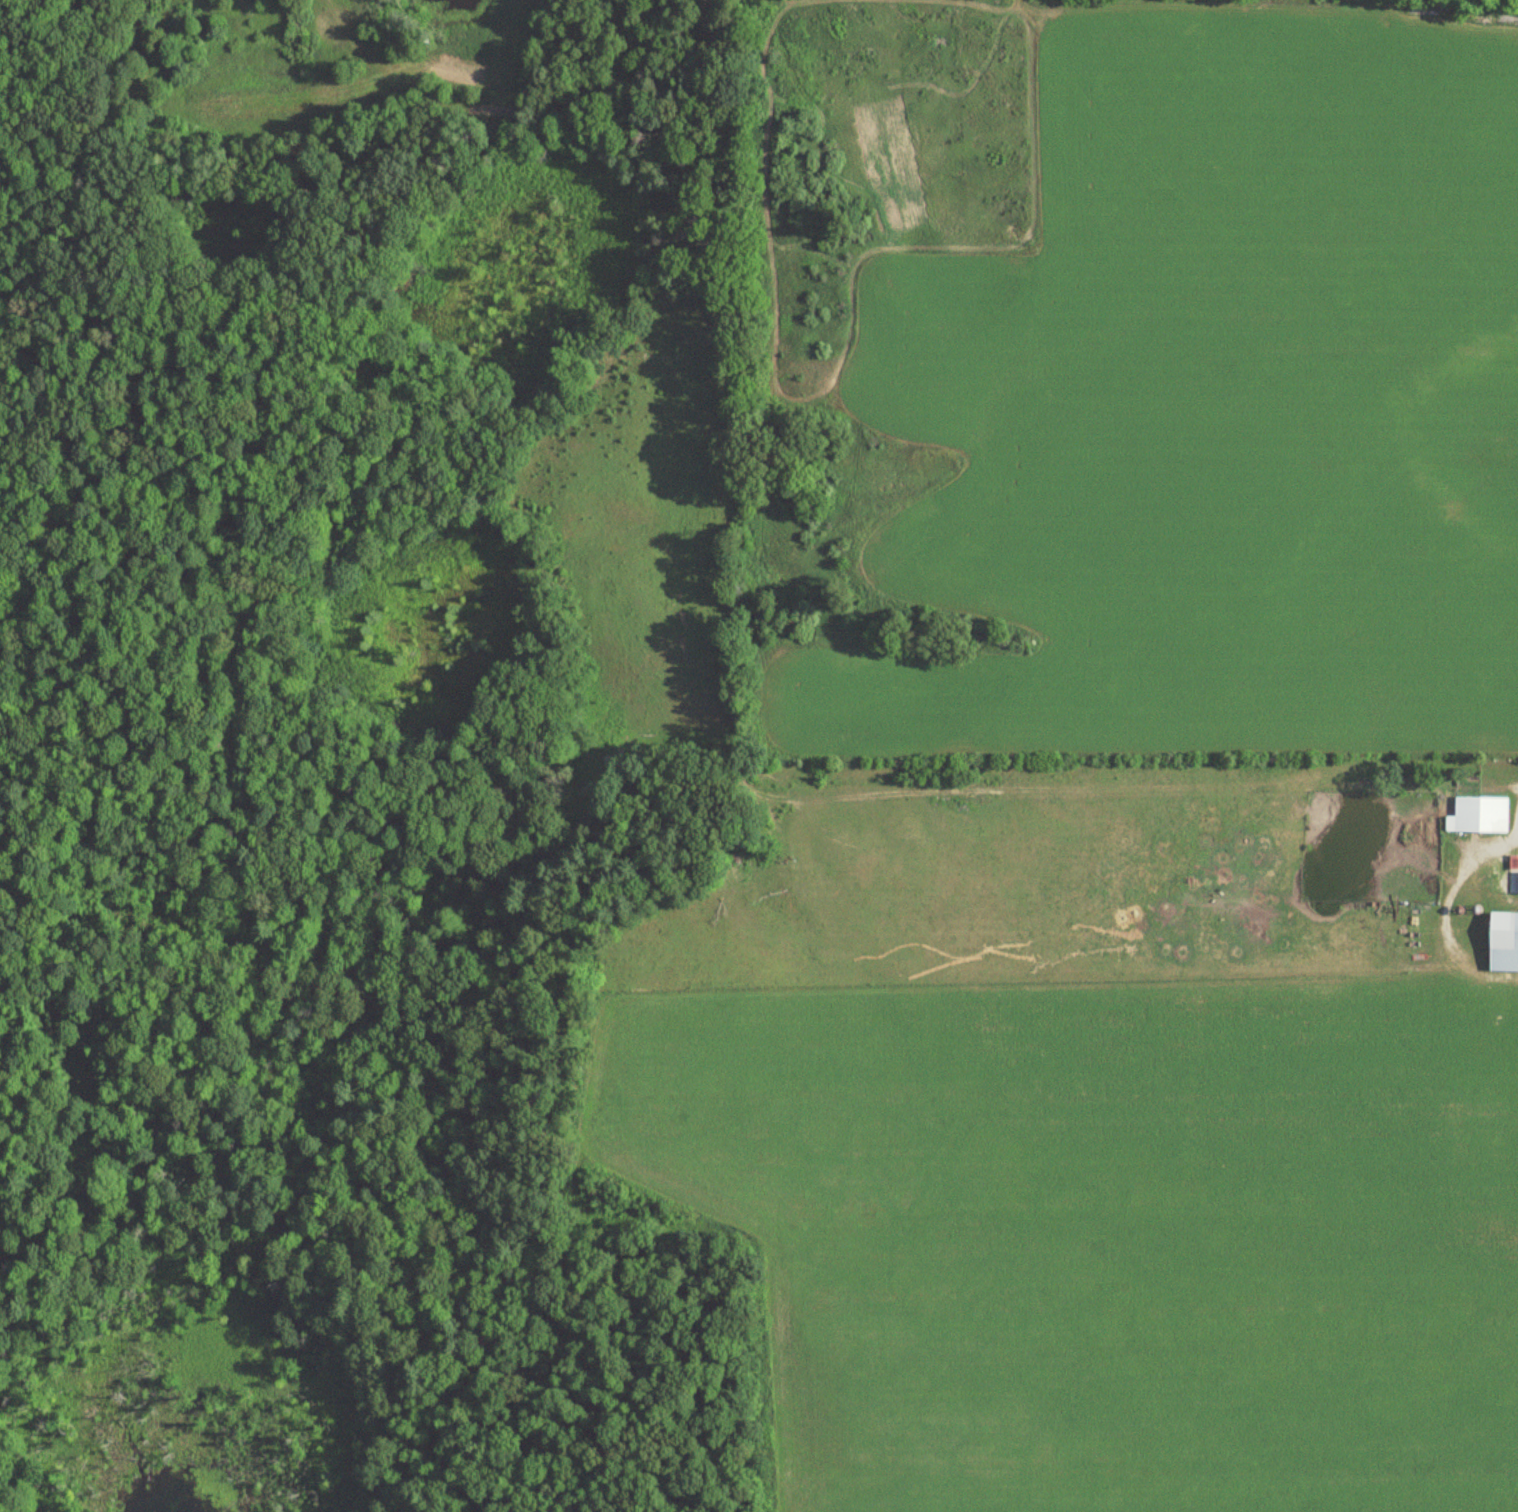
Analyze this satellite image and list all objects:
building: (1477, 815)
road: (1445, 898)
building: (1502, 941)

